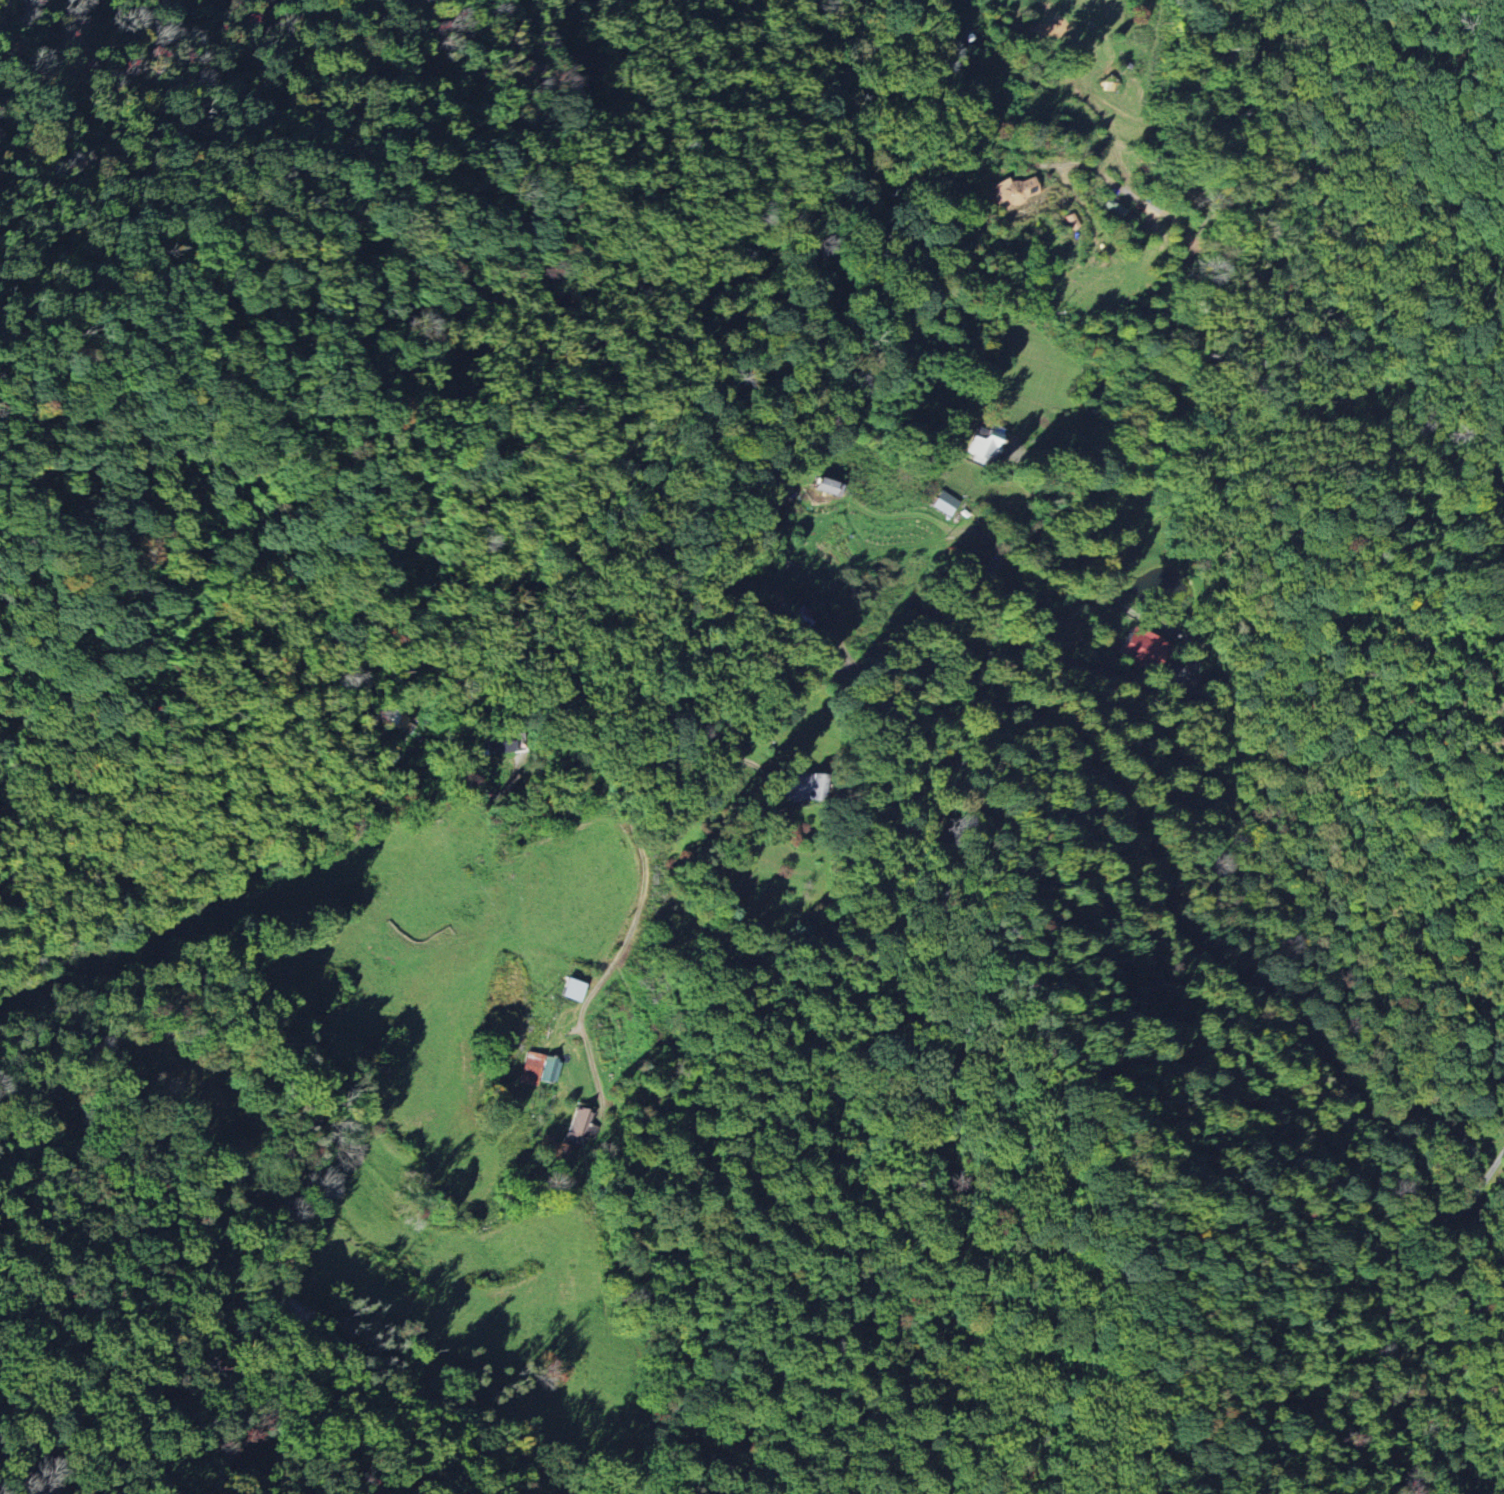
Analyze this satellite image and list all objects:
road: (1141, 197)
building: (1114, 208)
building: (1071, 221)
building: (985, 443)
building: (827, 487)
road: (1073, 488)
building: (944, 503)
road: (804, 583)
building: (801, 615)
road: (1192, 646)
building: (1142, 649)
road: (560, 816)
road: (1188, 930)
road: (627, 933)
building: (570, 989)
building: (530, 1068)
building: (552, 1070)
building: (579, 1121)
road: (1484, 1183)
road: (1450, 1213)

